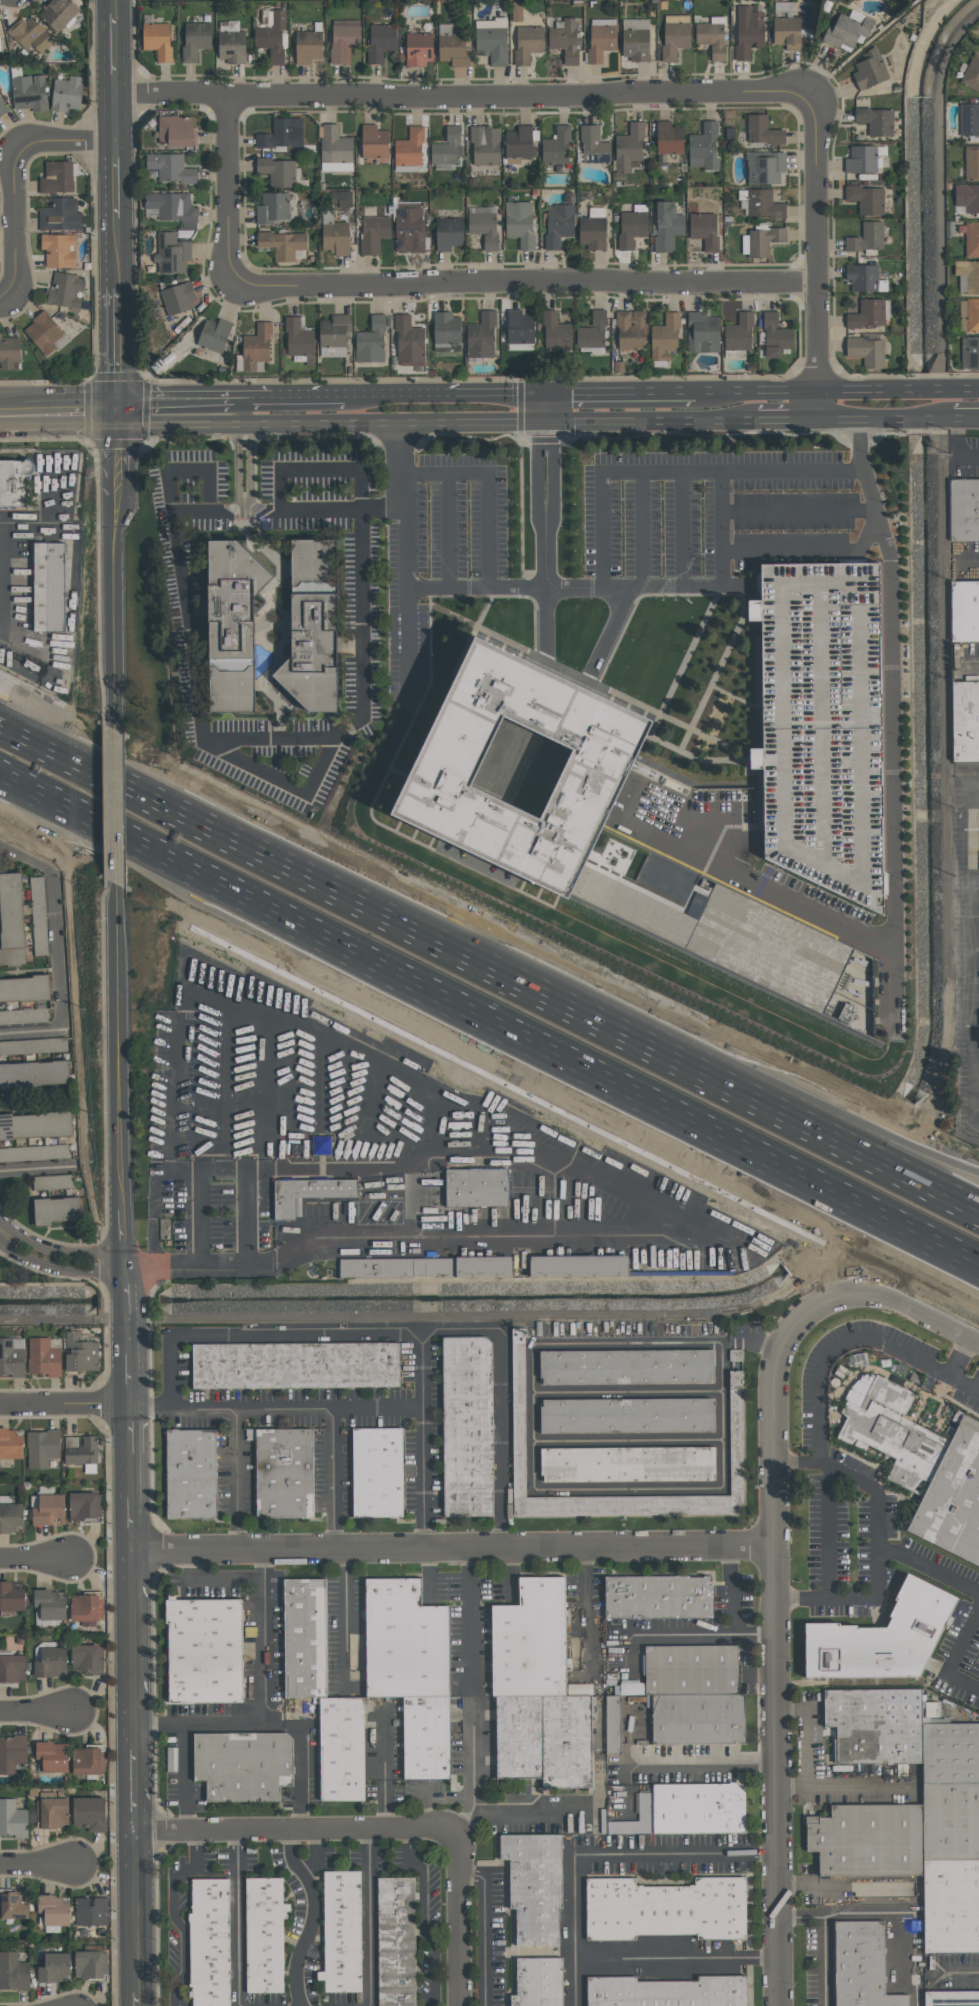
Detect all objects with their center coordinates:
road: (111, 7)
building: (784, 7)
building: (516, 11)
building: (58, 13)
building: (847, 30)
building: (748, 31)
building: (786, 32)
building: (30, 34)
building: (272, 35)
building: (711, 38)
building: (636, 39)
building: (674, 39)
building: (158, 40)
building: (195, 40)
building: (343, 40)
building: (565, 40)
building: (380, 41)
building: (600, 42)
building: (231, 43)
building: (492, 43)
building: (527, 43)
building: (308, 46)
building: (452, 48)
building: (419, 49)
road: (862, 49)
road: (112, 53)
building: (869, 69)
building: (972, 73)
building: (29, 92)
building: (67, 94)
road: (458, 96)
building: (2, 108)
road: (113, 117)
building: (969, 119)
building: (875, 120)
building: (175, 130)
building: (763, 130)
building: (282, 134)
road: (60, 138)
building: (668, 138)
building: (519, 142)
building: (374, 143)
building: (485, 145)
building: (593, 145)
building: (556, 146)
building: (629, 146)
building: (704, 146)
building: (409, 148)
building: (447, 148)
building: (335, 149)
building: (861, 159)
building: (972, 162)
building: (765, 167)
building: (170, 168)
building: (277, 171)
building: (57, 177)
road: (113, 179)
road: (229, 191)
building: (967, 197)
building: (866, 198)
building: (762, 203)
building: (272, 207)
building: (173, 208)
building: (60, 215)
building: (519, 223)
road: (15, 225)
building: (558, 225)
building: (666, 226)
building: (631, 228)
building: (484, 229)
building: (409, 230)
building: (704, 230)
building: (592, 232)
building: (373, 233)
building: (448, 233)
building: (336, 238)
building: (970, 238)
building: (866, 239)
building: (763, 240)
road: (813, 243)
building: (283, 244)
building: (59, 250)
road: (113, 252)
building: (171, 253)
building: (967, 276)
building: (865, 278)
road: (523, 287)
building: (66, 290)
road: (4, 299)
building: (176, 299)
building: (867, 314)
building: (972, 314)
building: (519, 327)
building: (630, 329)
building: (554, 331)
building: (591, 331)
building: (703, 332)
building: (335, 333)
building: (738, 333)
building: (45, 334)
building: (446, 334)
building: (481, 336)
building: (774, 336)
building: (298, 337)
building: (664, 337)
building: (212, 340)
building: (371, 341)
building: (409, 342)
building: (255, 349)
road: (114, 350)
building: (867, 351)
building: (969, 352)
building: (9, 353)
road: (896, 389)
road: (755, 391)
road: (622, 393)
road: (445, 394)
road: (308, 396)
road: (177, 397)
road: (257, 397)
road: (814, 404)
road: (548, 408)
road: (243, 411)
road: (60, 414)
road: (2, 415)
road: (966, 417)
road: (884, 418)
road: (785, 419)
road: (652, 421)
road: (330, 423)
road: (243, 429)
road: (243, 434)
road: (956, 444)
road: (115, 446)
road: (674, 471)
road: (238, 475)
road: (249, 475)
building: (14, 482)
road: (488, 486)
building: (963, 509)
road: (289, 510)
road: (799, 510)
road: (722, 527)
road: (641, 528)
road: (683, 528)
road: (449, 529)
road: (547, 537)
road: (809, 551)
road: (970, 559)
road: (407, 562)
building: (49, 586)
road: (580, 586)
building: (965, 608)
road: (362, 615)
building: (233, 624)
building: (313, 629)
road: (610, 631)
road: (350, 646)
road: (195, 653)
road: (976, 660)
road: (893, 716)
building: (965, 719)
building: (824, 724)
parking lot: (824, 724)
building: (755, 756)
building: (447, 768)
road: (254, 830)
road: (733, 841)
road: (25, 858)
road: (757, 885)
building: (38, 915)
building: (11, 919)
building: (731, 937)
road: (57, 950)
road: (974, 956)
building: (24, 988)
road: (278, 1012)
building: (23, 1016)
road: (32, 1032)
road: (488, 1042)
building: (33, 1045)
road: (694, 1049)
building: (33, 1073)
road: (320, 1080)
building: (34, 1125)
building: (33, 1153)
building: (392, 1155)
road: (930, 1156)
road: (415, 1161)
road: (930, 1164)
road: (34, 1169)
road: (303, 1170)
building: (51, 1181)
building: (56, 1209)
road: (244, 1219)
road: (1, 1232)
road: (1, 1234)
road: (120, 1235)
road: (444, 1238)
road: (59, 1253)
road: (54, 1268)
road: (900, 1300)
road: (386, 1331)
road: (124, 1333)
building: (80, 1353)
building: (735, 1355)
building: (12, 1356)
road: (961, 1356)
building: (44, 1358)
building: (295, 1365)
building: (626, 1366)
building: (735, 1379)
road: (64, 1403)
road: (298, 1411)
building: (626, 1414)
building: (466, 1426)
road: (822, 1429)
road: (421, 1439)
building: (735, 1442)
building: (10, 1444)
building: (42, 1447)
building: (83, 1454)
road: (533, 1460)
building: (626, 1463)
building: (923, 1468)
building: (283, 1472)
building: (376, 1472)
building: (190, 1473)
road: (131, 1476)
road: (234, 1479)
road: (334, 1479)
building: (84, 1504)
building: (48, 1509)
building: (10, 1516)
road: (825, 1531)
road: (455, 1548)
road: (33, 1557)
road: (928, 1565)
road: (210, 1581)
building: (11, 1596)
building: (657, 1597)
building: (49, 1604)
building: (86, 1608)
road: (344, 1609)
road: (732, 1609)
building: (882, 1636)
road: (264, 1637)
building: (304, 1637)
building: (404, 1641)
road: (131, 1648)
road: (777, 1648)
building: (204, 1650)
road: (955, 1655)
building: (86, 1657)
building: (50, 1661)
building: (12, 1667)
building: (579, 1689)
building: (536, 1690)
road: (473, 1691)
building: (694, 1694)
road: (34, 1712)
building: (612, 1725)
building: (875, 1725)
road: (268, 1726)
building: (426, 1737)
building: (340, 1748)
road: (806, 1749)
building: (12, 1752)
building: (950, 1753)
building: (52, 1756)
building: (87, 1760)
building: (243, 1765)
road: (701, 1765)
road: (383, 1770)
road: (186, 1779)
road: (130, 1790)
road: (528, 1808)
building: (697, 1808)
building: (51, 1812)
building: (89, 1813)
building: (12, 1819)
building: (950, 1821)
road: (296, 1832)
building: (867, 1839)
road: (599, 1854)
road: (34, 1863)
building: (533, 1884)
building: (918, 1887)
building: (14, 1904)
building: (951, 1906)
building: (665, 1908)
building: (53, 1910)
building: (90, 1911)
road: (133, 1911)
road: (173, 1914)
road: (885, 1914)
road: (314, 1918)
road: (368, 1918)
road: (422, 1918)
road: (461, 1918)
road: (235, 1919)
road: (484, 1928)
building: (341, 1932)
building: (264, 1935)
building: (395, 1940)
building: (209, 1942)
road: (676, 1958)
road: (823, 1961)
building: (89, 1964)
building: (860, 1965)
building: (53, 1967)
building: (13, 1972)
road: (957, 1975)
building: (537, 1982)
building: (666, 1992)
road: (135, 1998)
building: (951, 1998)

